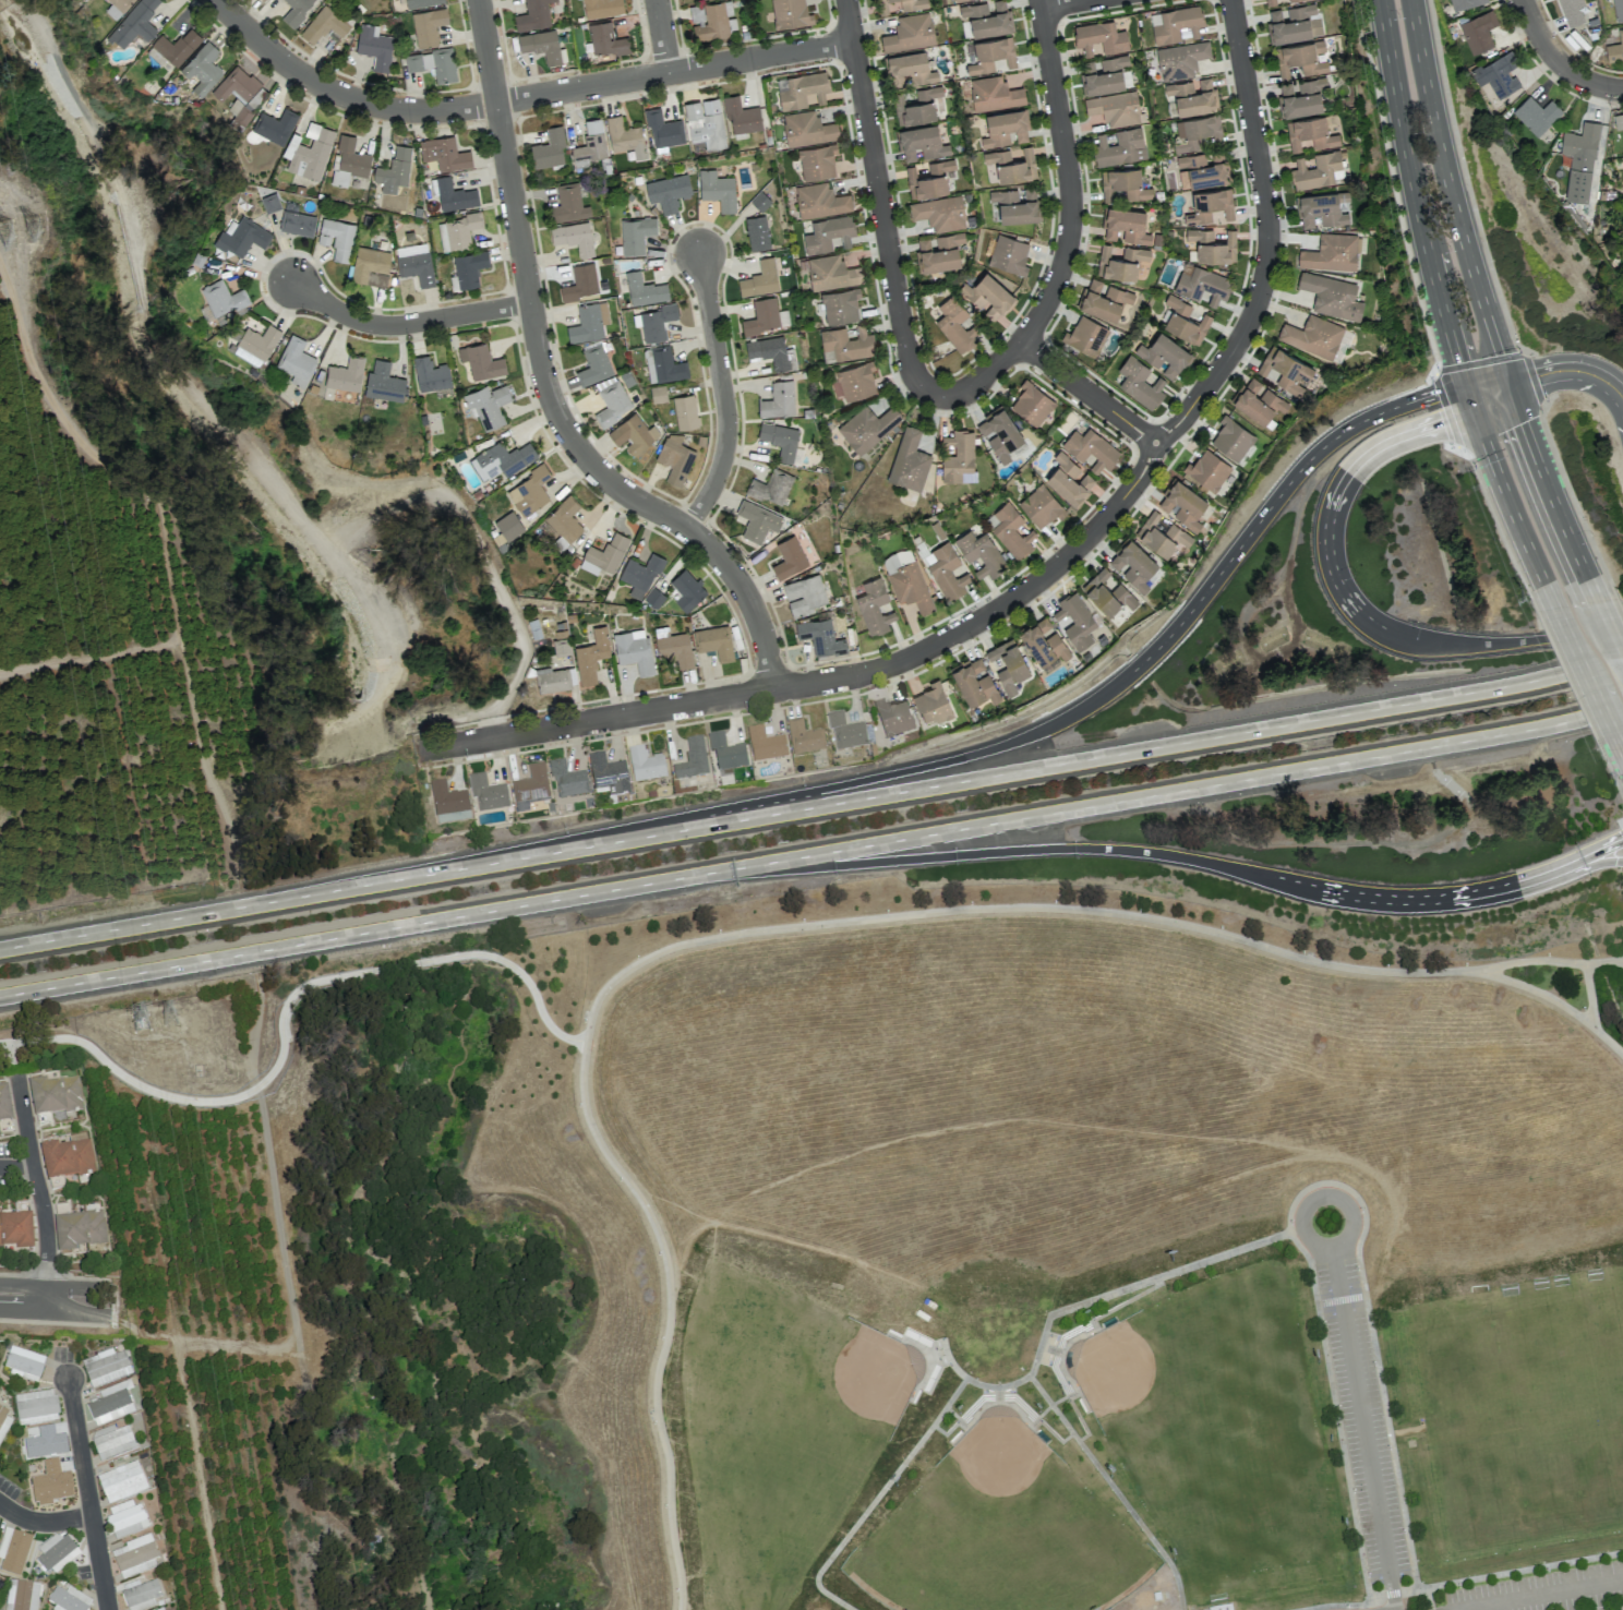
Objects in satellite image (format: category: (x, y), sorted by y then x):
building: (262, 0)
building: (959, 0)
building: (1294, 0)
building: (421, 2)
building: (1270, 2)
building: (120, 3)
road: (1066, 3)
building: (1465, 3)
building: (899, 5)
building: (601, 8)
building: (1618, 10)
building: (296, 11)
building: (1570, 12)
building: (790, 13)
building: (533, 15)
building: (986, 17)
building: (713, 21)
building: (135, 23)
building: (1175, 24)
building: (1294, 24)
building: (324, 25)
building: (428, 26)
building: (1478, 32)
building: (910, 33)
road: (662, 36)
building: (1099, 37)
building: (605, 39)
building: (540, 45)
building: (177, 46)
building: (375, 47)
building: (1615, 49)
building: (991, 55)
building: (1301, 58)
building: (1180, 59)
road: (1560, 61)
building: (433, 63)
building: (202, 69)
building: (909, 69)
road: (675, 72)
building: (1103, 74)
building: (1498, 74)
building: (240, 92)
building: (994, 94)
road: (340, 96)
building: (1192, 96)
building: (1301, 97)
building: (917, 106)
building: (1115, 108)
building: (1537, 115)
building: (741, 116)
building: (1618, 120)
building: (705, 122)
building: (274, 125)
building: (1005, 128)
building: (663, 129)
building: (807, 129)
building: (1197, 131)
building: (1310, 133)
building: (625, 139)
building: (588, 142)
building: (921, 142)
building: (548, 145)
building: (1119, 147)
building: (311, 153)
building: (444, 154)
building: (1579, 160)
building: (348, 161)
building: (817, 161)
building: (1011, 165)
building: (394, 170)
building: (1200, 171)
building: (1318, 171)
building: (928, 179)
building: (1123, 183)
building: (718, 190)
building: (668, 192)
building: (454, 195)
road: (1451, 195)
road: (881, 196)
road: (1417, 200)
building: (567, 201)
building: (759, 201)
building: (819, 201)
building: (268, 203)
building: (1015, 204)
building: (1209, 205)
building: (1320, 209)
building: (939, 213)
building: (296, 220)
building: (1125, 225)
power tower: (34, 226)
power tower: (4, 231)
building: (634, 231)
building: (757, 232)
road: (1072, 232)
building: (574, 233)
building: (242, 237)
building: (336, 238)
building: (1212, 244)
building: (938, 251)
building: (1331, 253)
building: (1009, 254)
building: (1120, 262)
building: (468, 265)
building: (370, 266)
building: (416, 267)
building: (831, 273)
building: (759, 279)
building: (578, 280)
building: (1202, 285)
building: (642, 287)
building: (223, 296)
building: (988, 296)
building: (1332, 296)
building: (1103, 300)
building: (840, 305)
building: (765, 316)
building: (588, 320)
building: (656, 320)
building: (1185, 321)
building: (954, 324)
road: (407, 325)
building: (1086, 335)
building: (1312, 336)
building: (847, 343)
building: (255, 344)
building: (771, 352)
building: (1164, 355)
building: (296, 360)
building: (592, 361)
building: (662, 361)
building: (483, 362)
road: (31, 364)
building: (1285, 370)
road: (1549, 373)
building: (345, 374)
building: (430, 374)
building: (855, 381)
building: (1139, 382)
building: (383, 383)
traffic signals: (1510, 386)
road: (548, 387)
building: (658, 393)
road: (1087, 393)
road: (722, 396)
traffic signals: (1470, 397)
building: (778, 399)
building: (611, 400)
building: (1258, 400)
building: (1031, 404)
building: (488, 405)
building: (685, 411)
building: (867, 426)
building: (633, 434)
building: (1231, 438)
building: (780, 440)
building: (1091, 448)
building: (959, 456)
building: (674, 458)
building: (502, 459)
building: (909, 460)
building: (1207, 469)
building: (1068, 480)
road: (1547, 482)
building: (771, 486)
building: (530, 491)
road: (1503, 491)
building: (1182, 504)
building: (1041, 505)
building: (564, 519)
building: (757, 520)
building: (508, 525)
building: (1011, 530)
building: (1162, 534)
building: (606, 552)
building: (981, 553)
building: (789, 557)
building: (1132, 564)
building: (945, 570)
building: (640, 575)
road: (1043, 575)
building: (906, 579)
road: (170, 587)
building: (686, 589)
road: (1594, 589)
building: (1107, 592)
building: (804, 594)
road: (1550, 596)
road: (1349, 601)
building: (874, 606)
building: (1074, 620)
road: (1610, 627)
building: (820, 637)
building: (714, 641)
building: (1043, 641)
building: (561, 646)
building: (674, 648)
building: (633, 650)
building: (591, 656)
building: (1008, 663)
road: (1588, 677)
building: (553, 678)
building: (974, 681)
road: (1111, 686)
building: (931, 704)
building: (893, 718)
building: (846, 732)
building: (804, 737)
building: (765, 744)
road: (1622, 748)
building: (726, 753)
building: (692, 759)
building: (645, 765)
building: (608, 774)
building: (567, 780)
building: (530, 788)
road: (1165, 791)
building: (486, 793)
building: (447, 798)
road: (810, 806)
building: (450, 817)
road: (226, 819)
road: (1171, 856)
road: (1594, 864)
road: (1093, 910)
road: (353, 935)
road: (1562, 961)
road: (1603, 962)
road: (282, 1011)
power tower: (173, 1020)
power tower: (142, 1025)
park: (38, 1046)
road: (17, 1048)
road: (13, 1059)
building: (55, 1094)
building: (4, 1104)
building: (67, 1157)
road: (16, 1167)
road: (39, 1193)
building: (15, 1229)
building: (79, 1229)
road: (1327, 1246)
road: (281, 1250)
park: (1044, 1250)
road: (22, 1285)
road: (76, 1288)
road: (21, 1311)
road: (74, 1313)
road: (668, 1317)
road: (176, 1347)
building: (23, 1362)
building: (105, 1367)
building: (110, 1403)
building: (35, 1407)
park: (785, 1411)
park: (1520, 1411)
building: (4, 1421)
parking lot: (1361, 1426)
park: (1217, 1427)
road: (1361, 1428)
building: (39, 1440)
building: (112, 1442)
building: (121, 1481)
building: (51, 1483)
road: (88, 1494)
building: (125, 1518)
road: (44, 1523)
park: (999, 1531)
building: (13, 1551)
building: (57, 1552)
building: (134, 1557)
parking lot: (1543, 1590)
building: (22, 1595)
road: (1538, 1595)
building: (140, 1596)
building: (68, 1599)
building: (1221, 1607)
building: (160, 1609)

